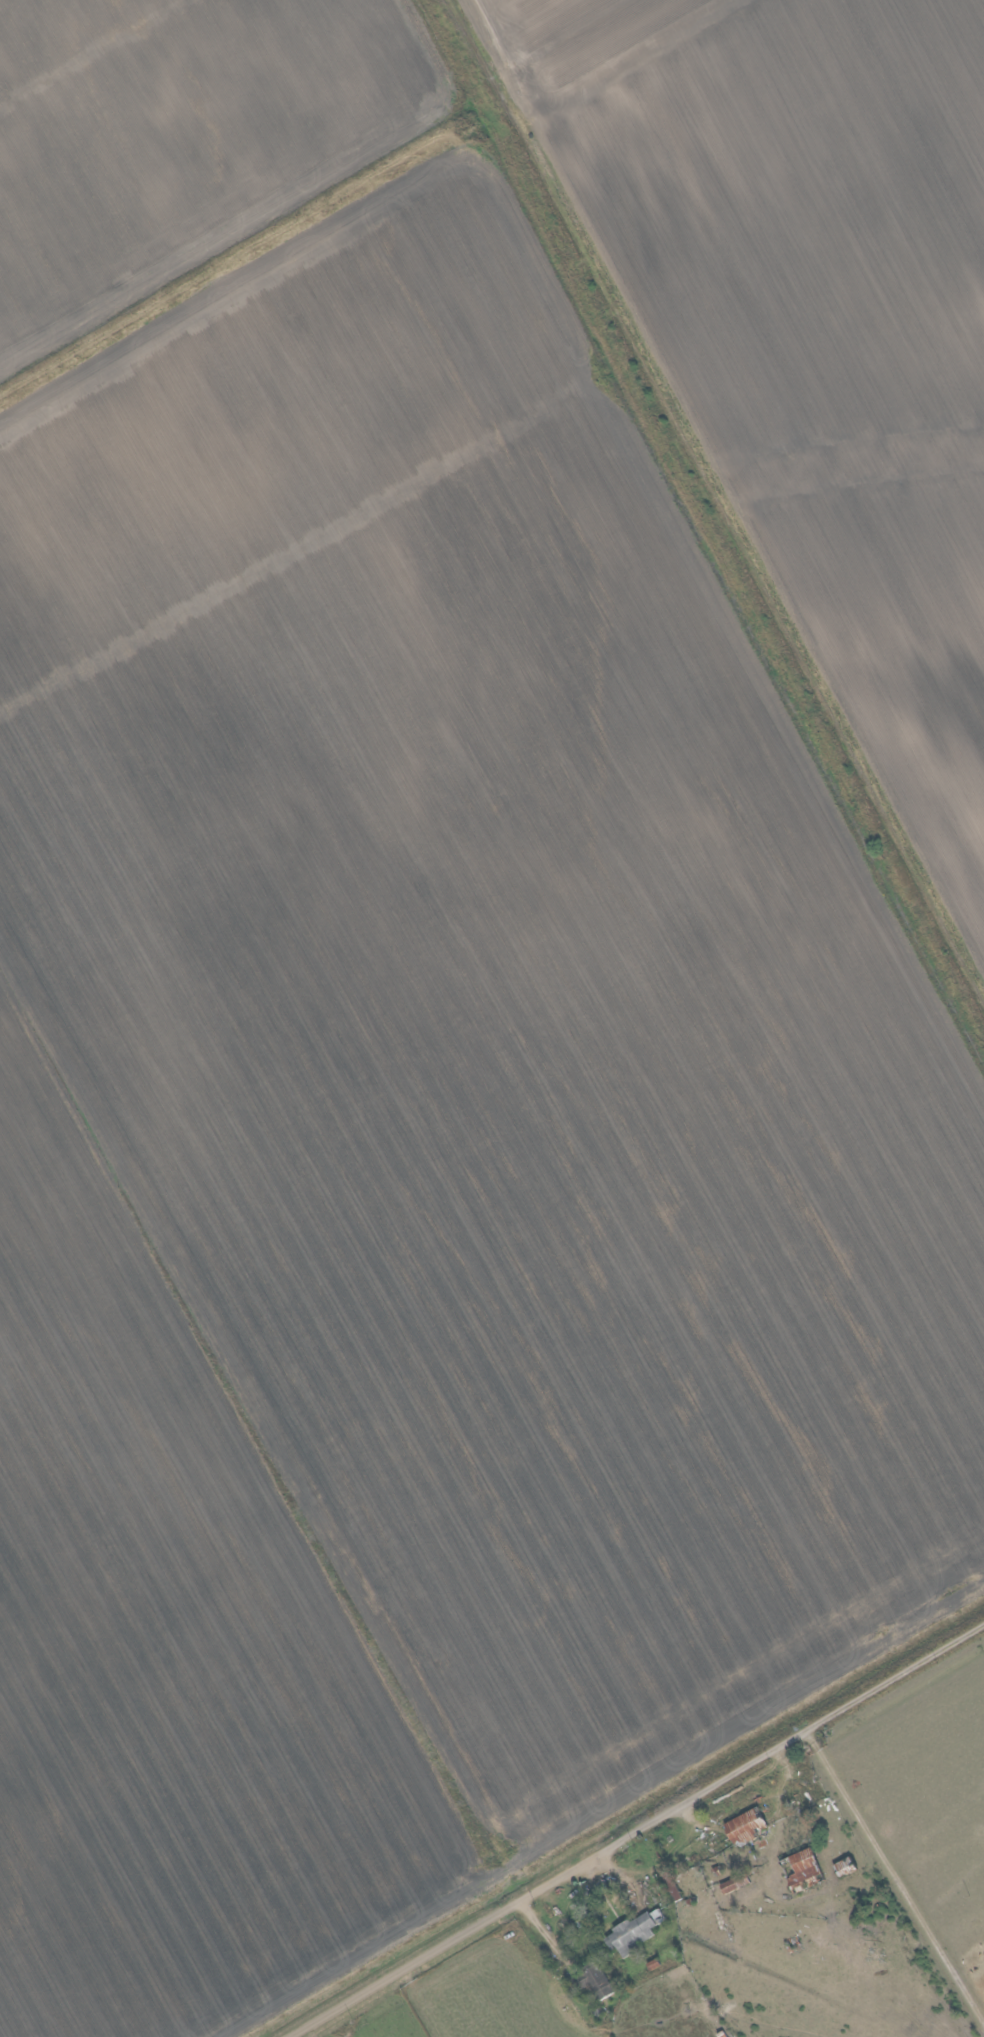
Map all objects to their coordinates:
road: (465, 1929)
building: (597, 1983)

